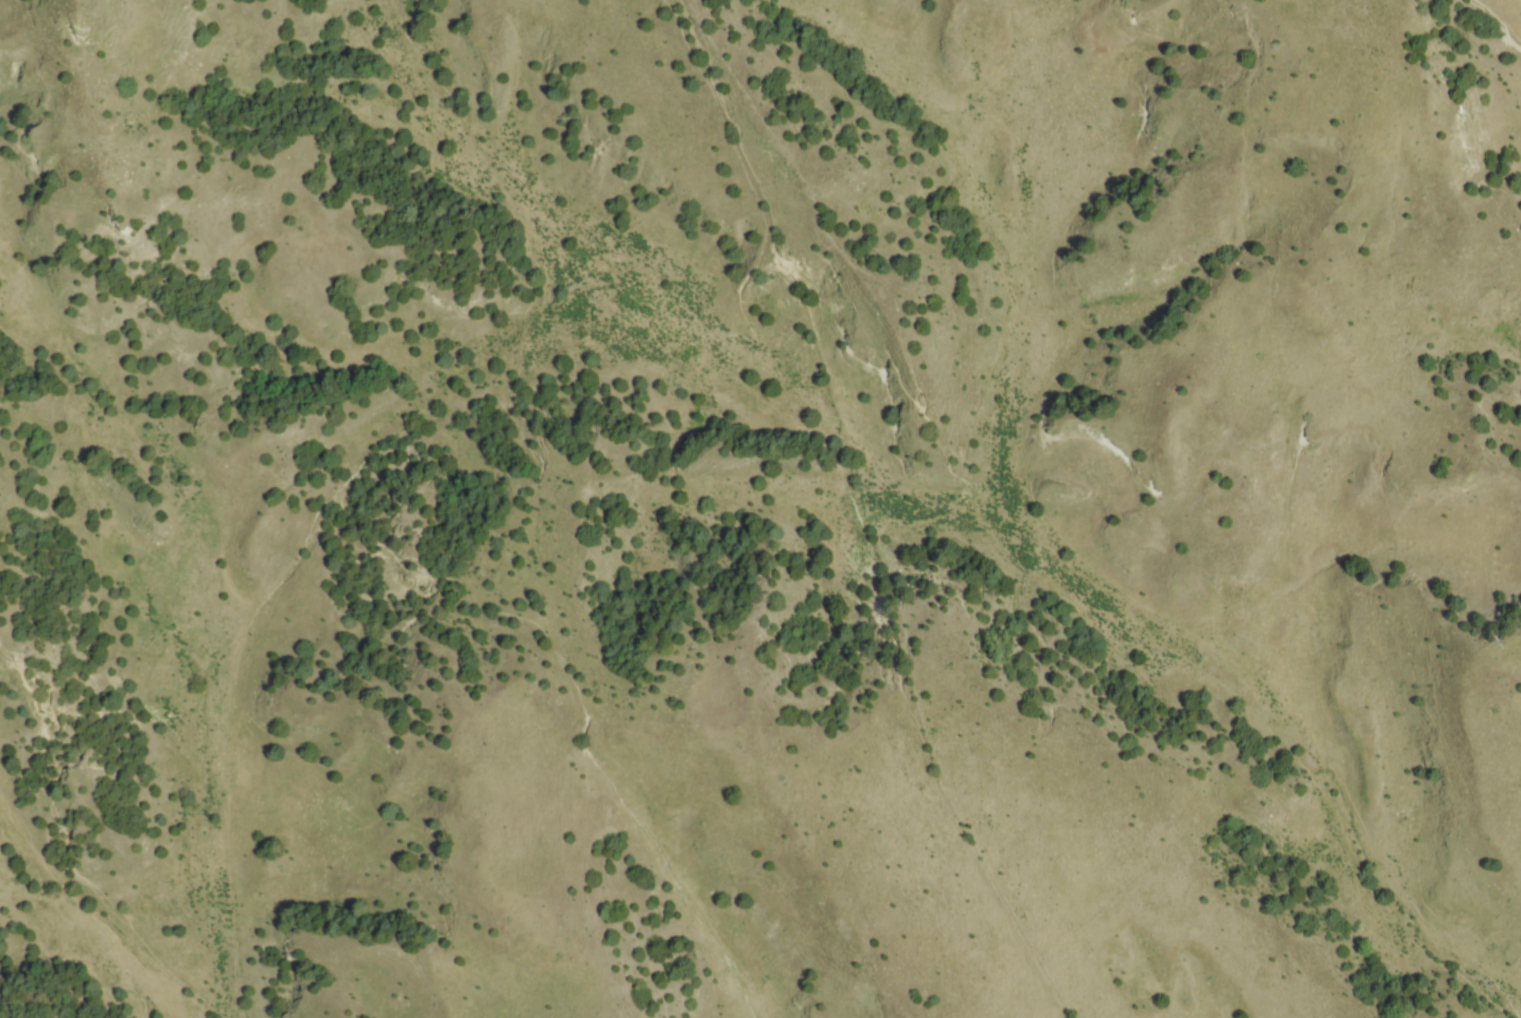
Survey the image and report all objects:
power tower: (1507, 642)

